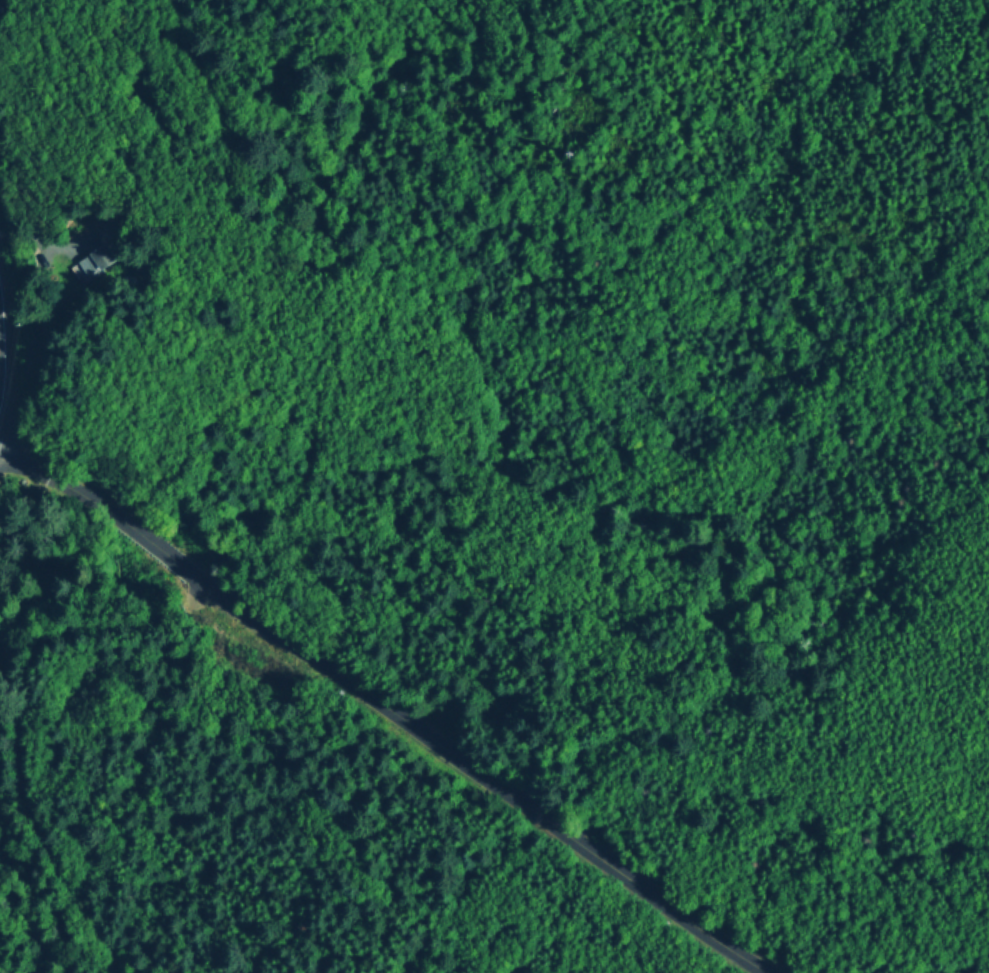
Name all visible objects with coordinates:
building: (98, 254)
building: (80, 269)
road: (388, 707)

